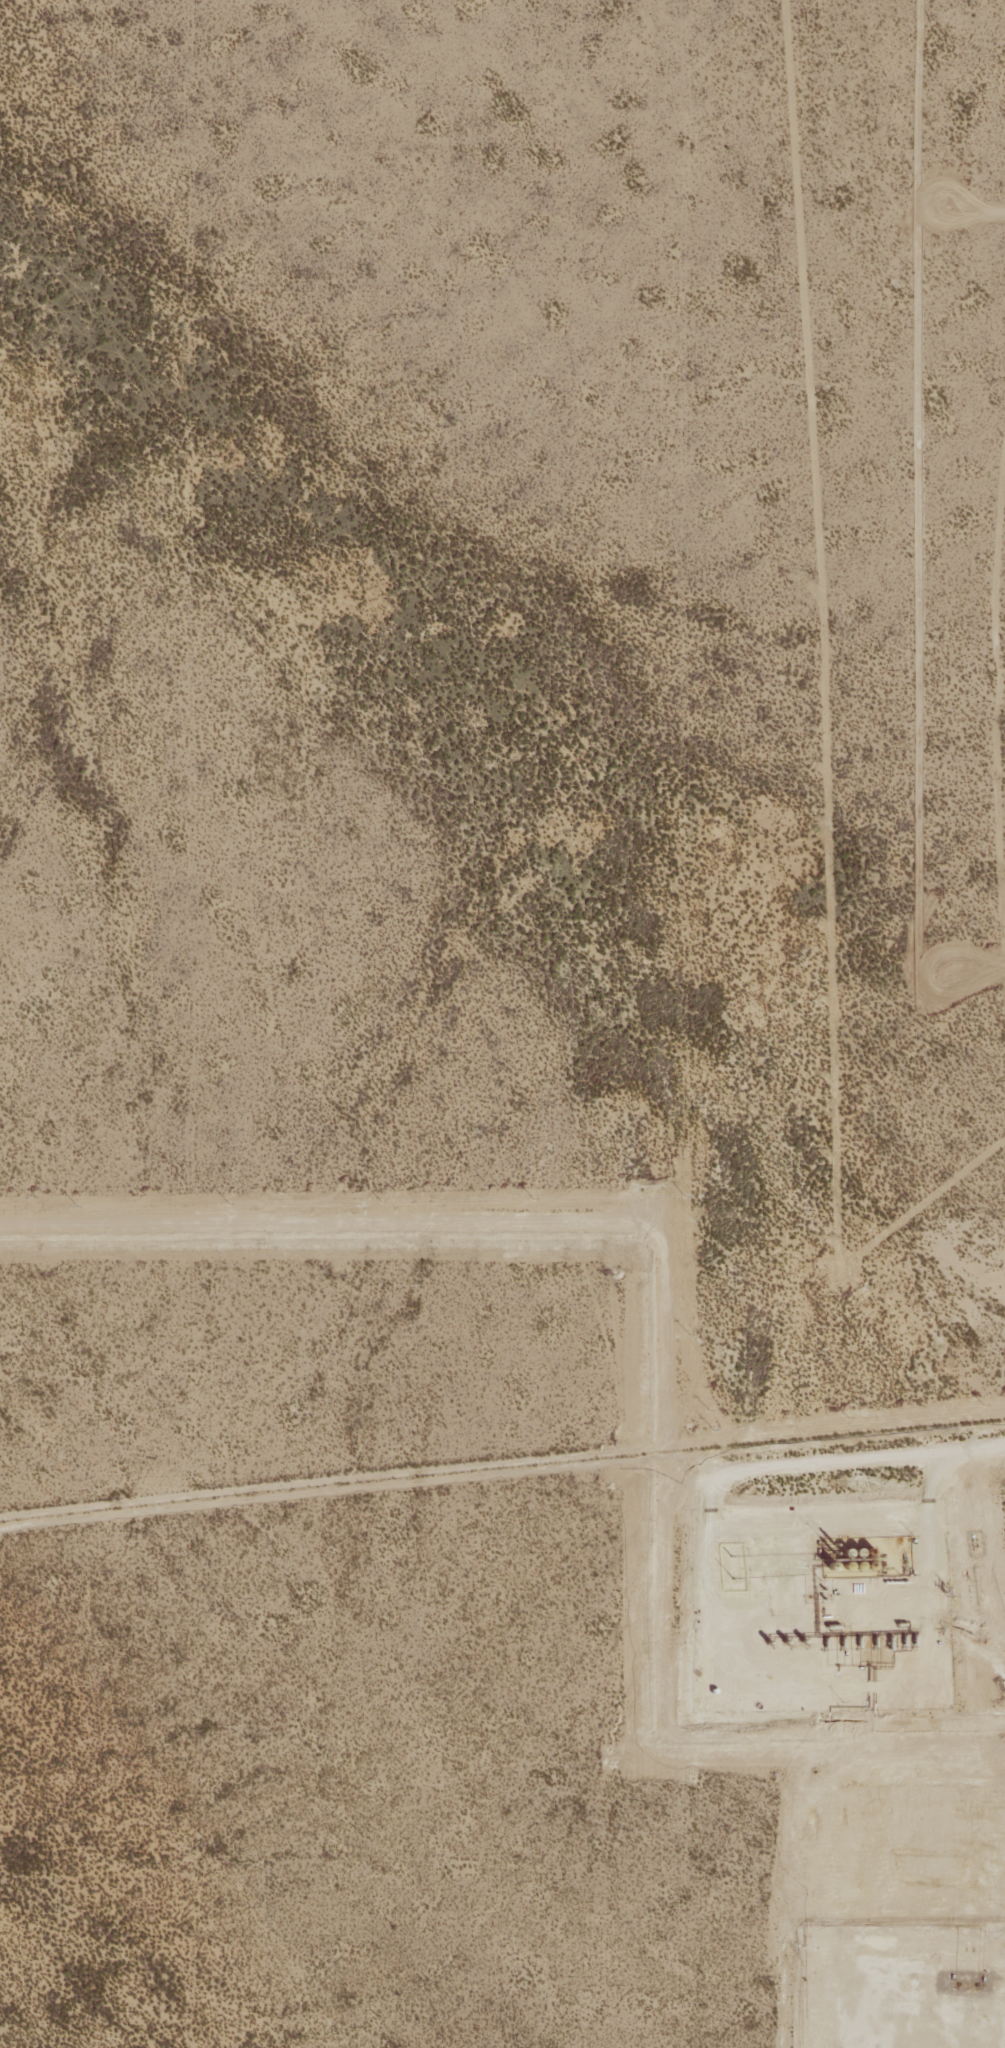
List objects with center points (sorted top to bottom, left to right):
road: (502, 1467)

